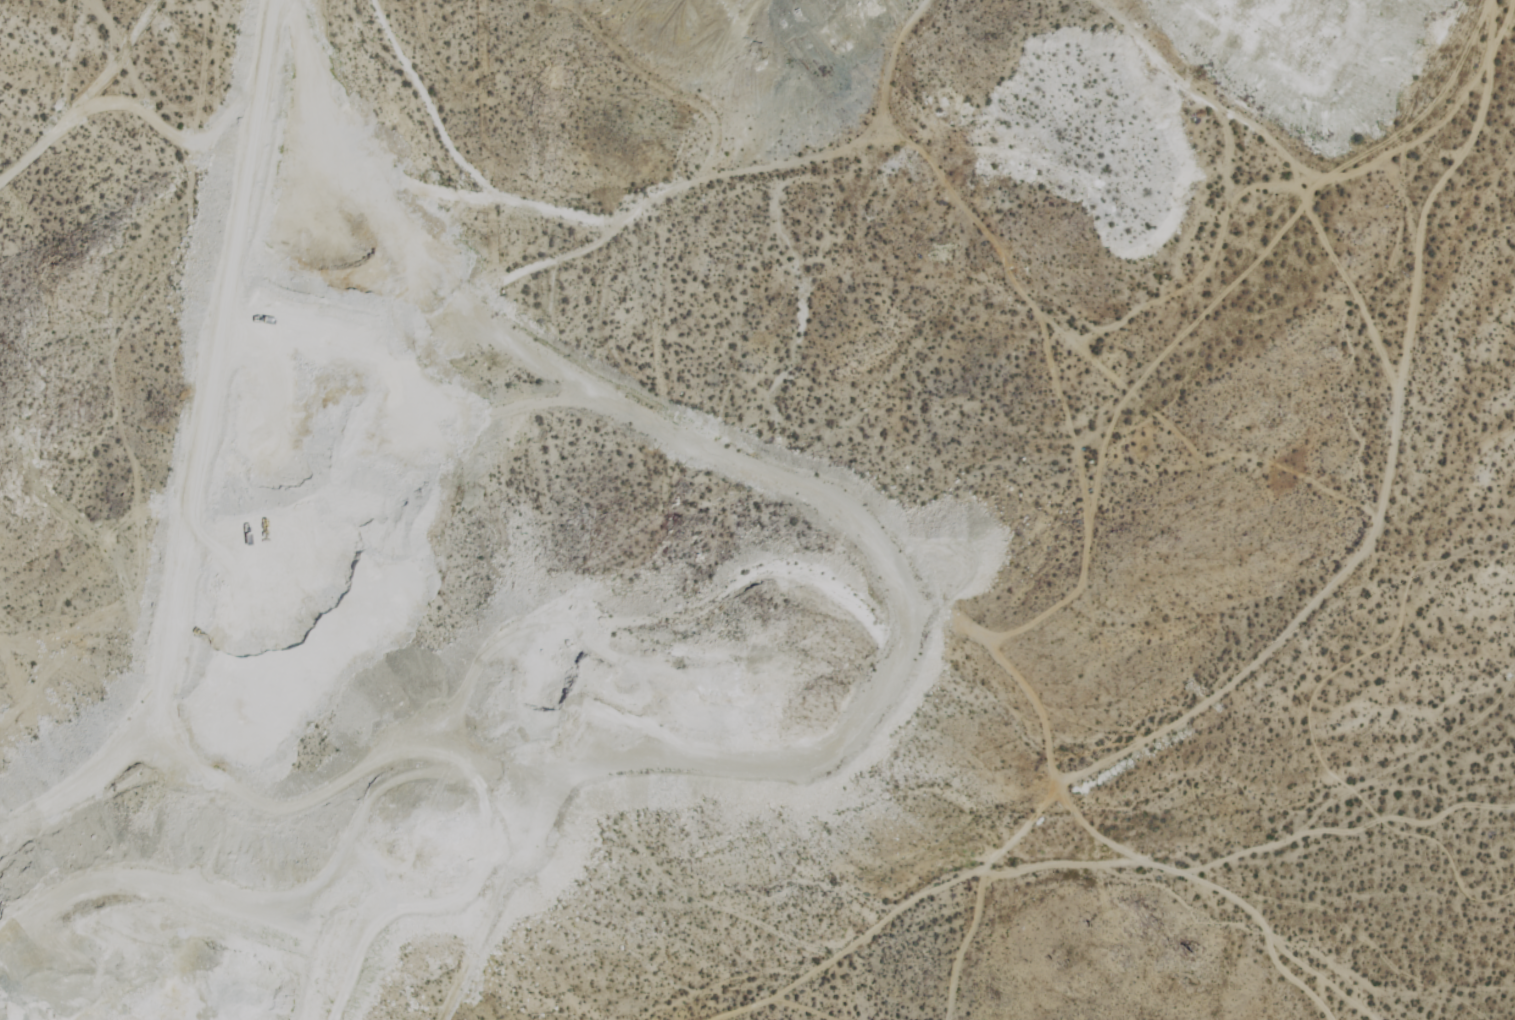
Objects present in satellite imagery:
quarry: (476, 426)

